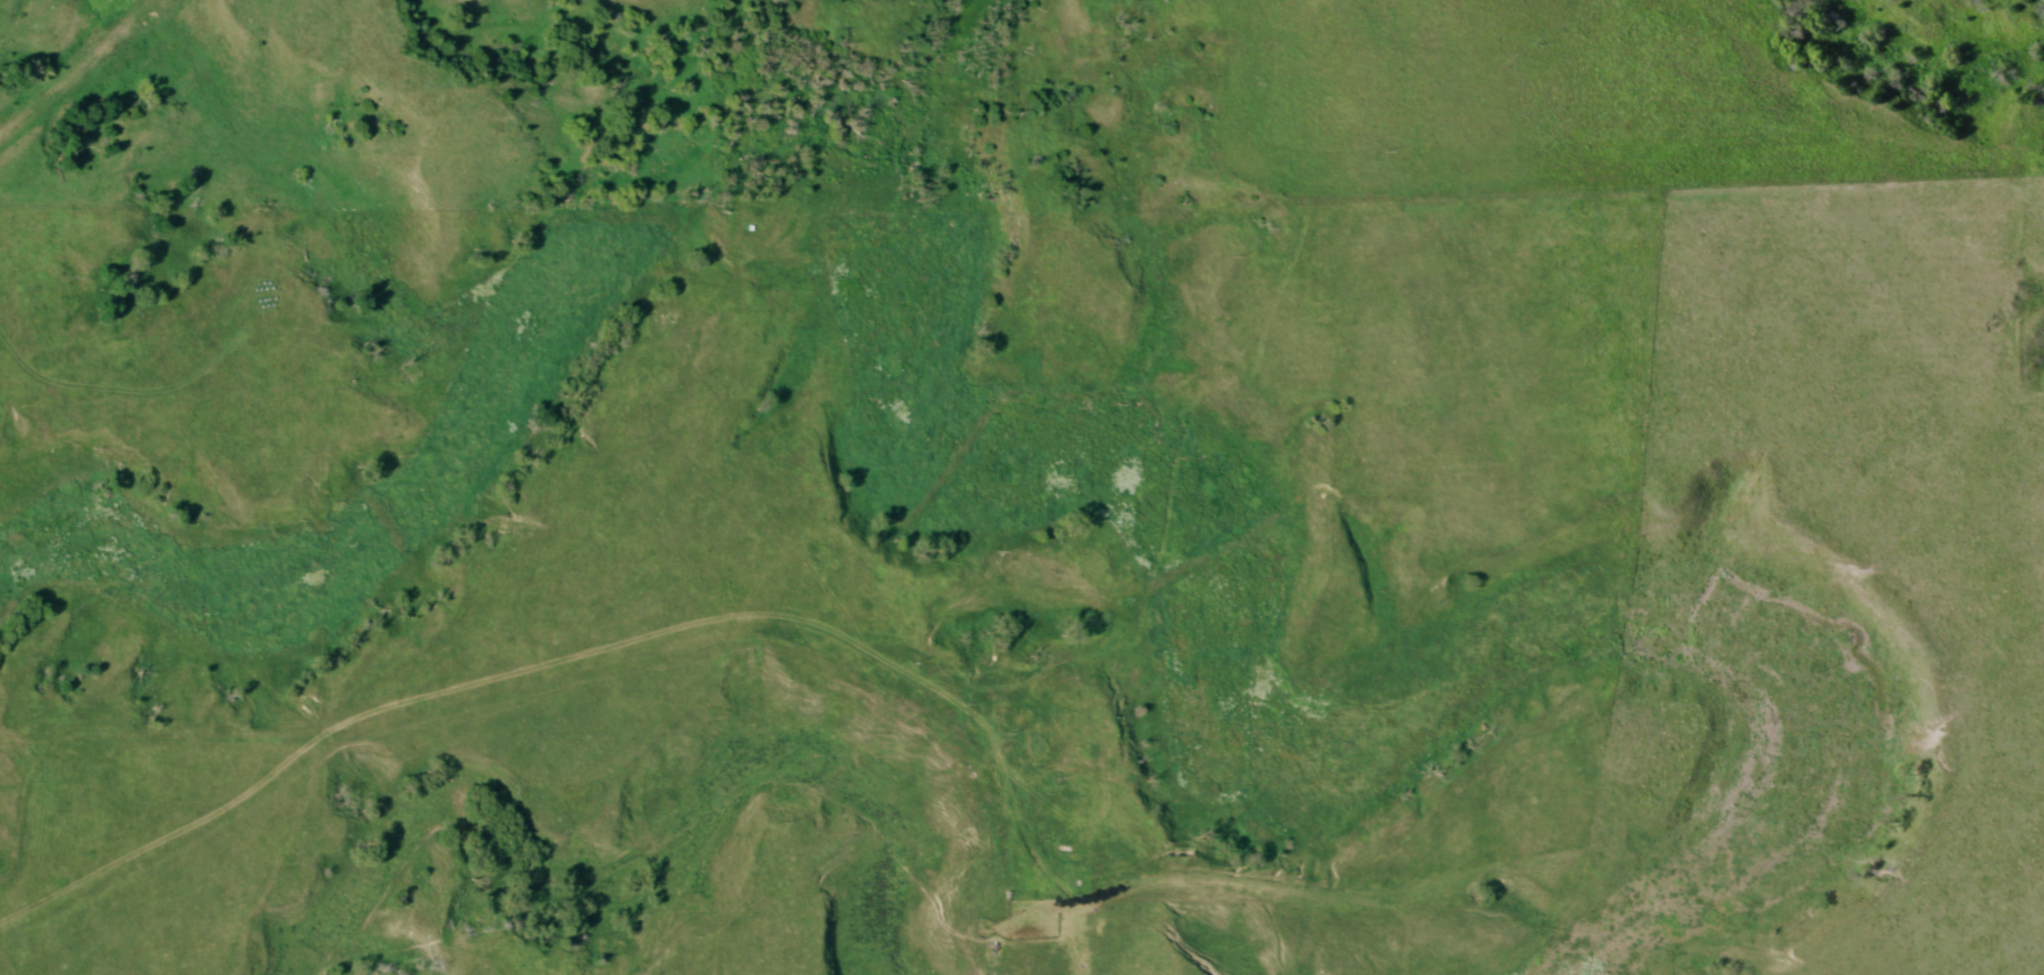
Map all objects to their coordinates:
building: (1038, 745)
building: (991, 958)

